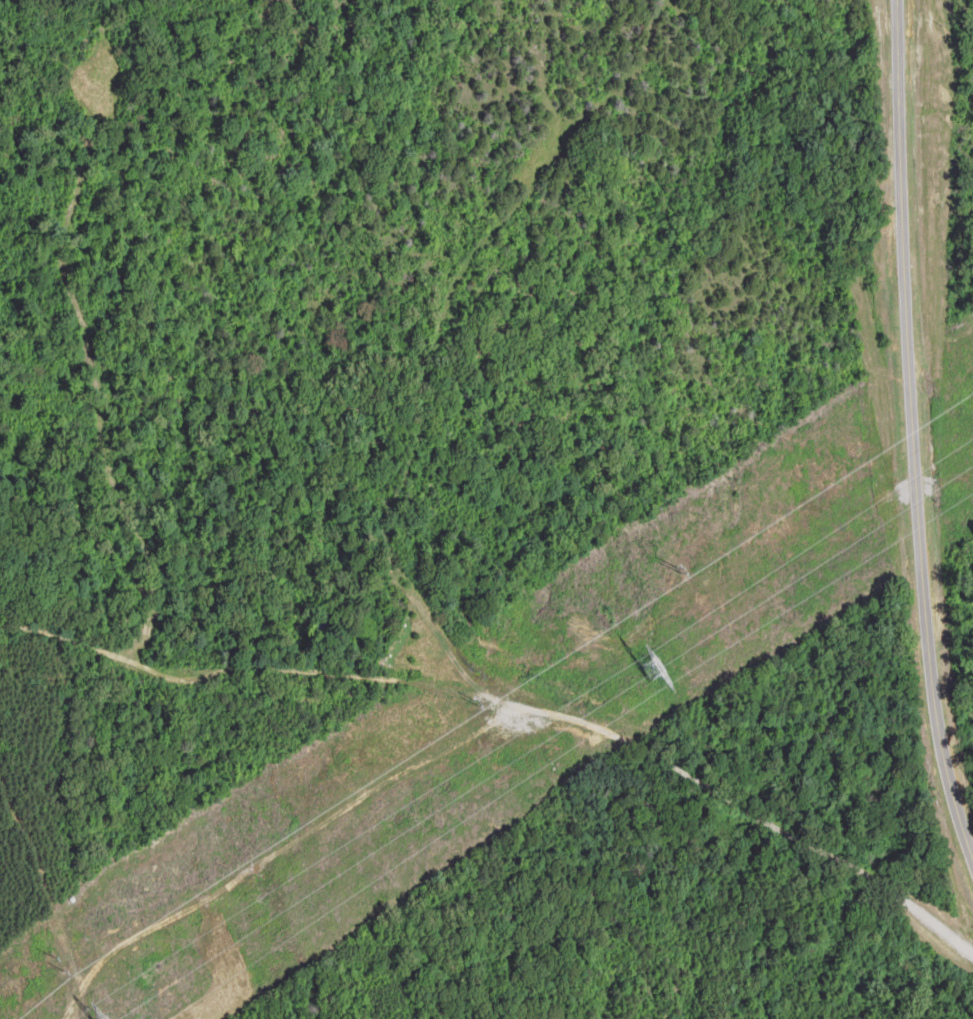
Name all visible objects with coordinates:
road: (914, 408)
power tower: (649, 670)

